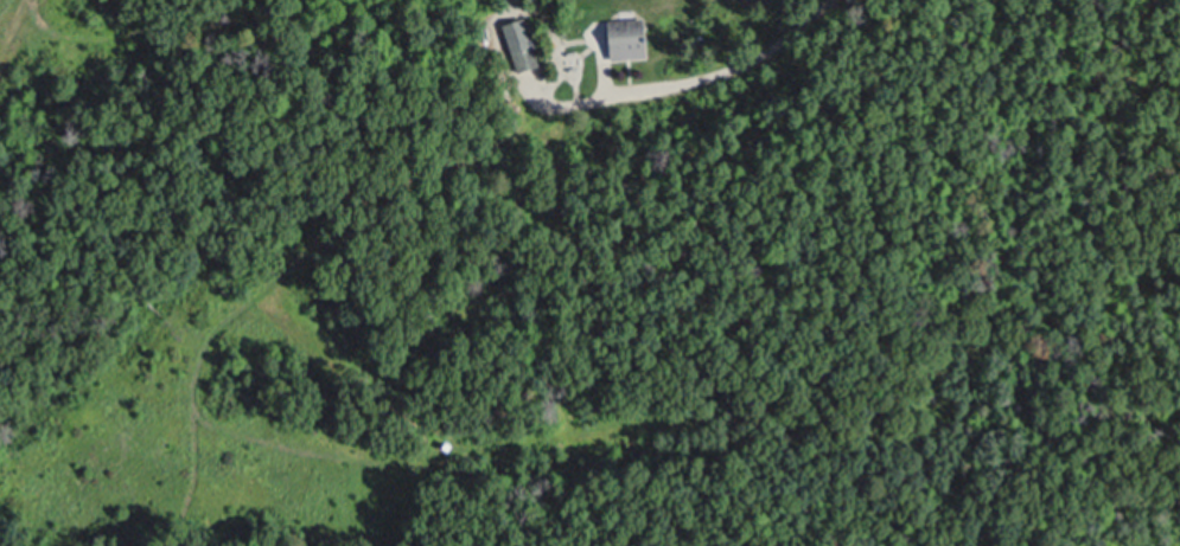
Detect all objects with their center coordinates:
building: (632, 40)
building: (523, 50)
road: (715, 71)

